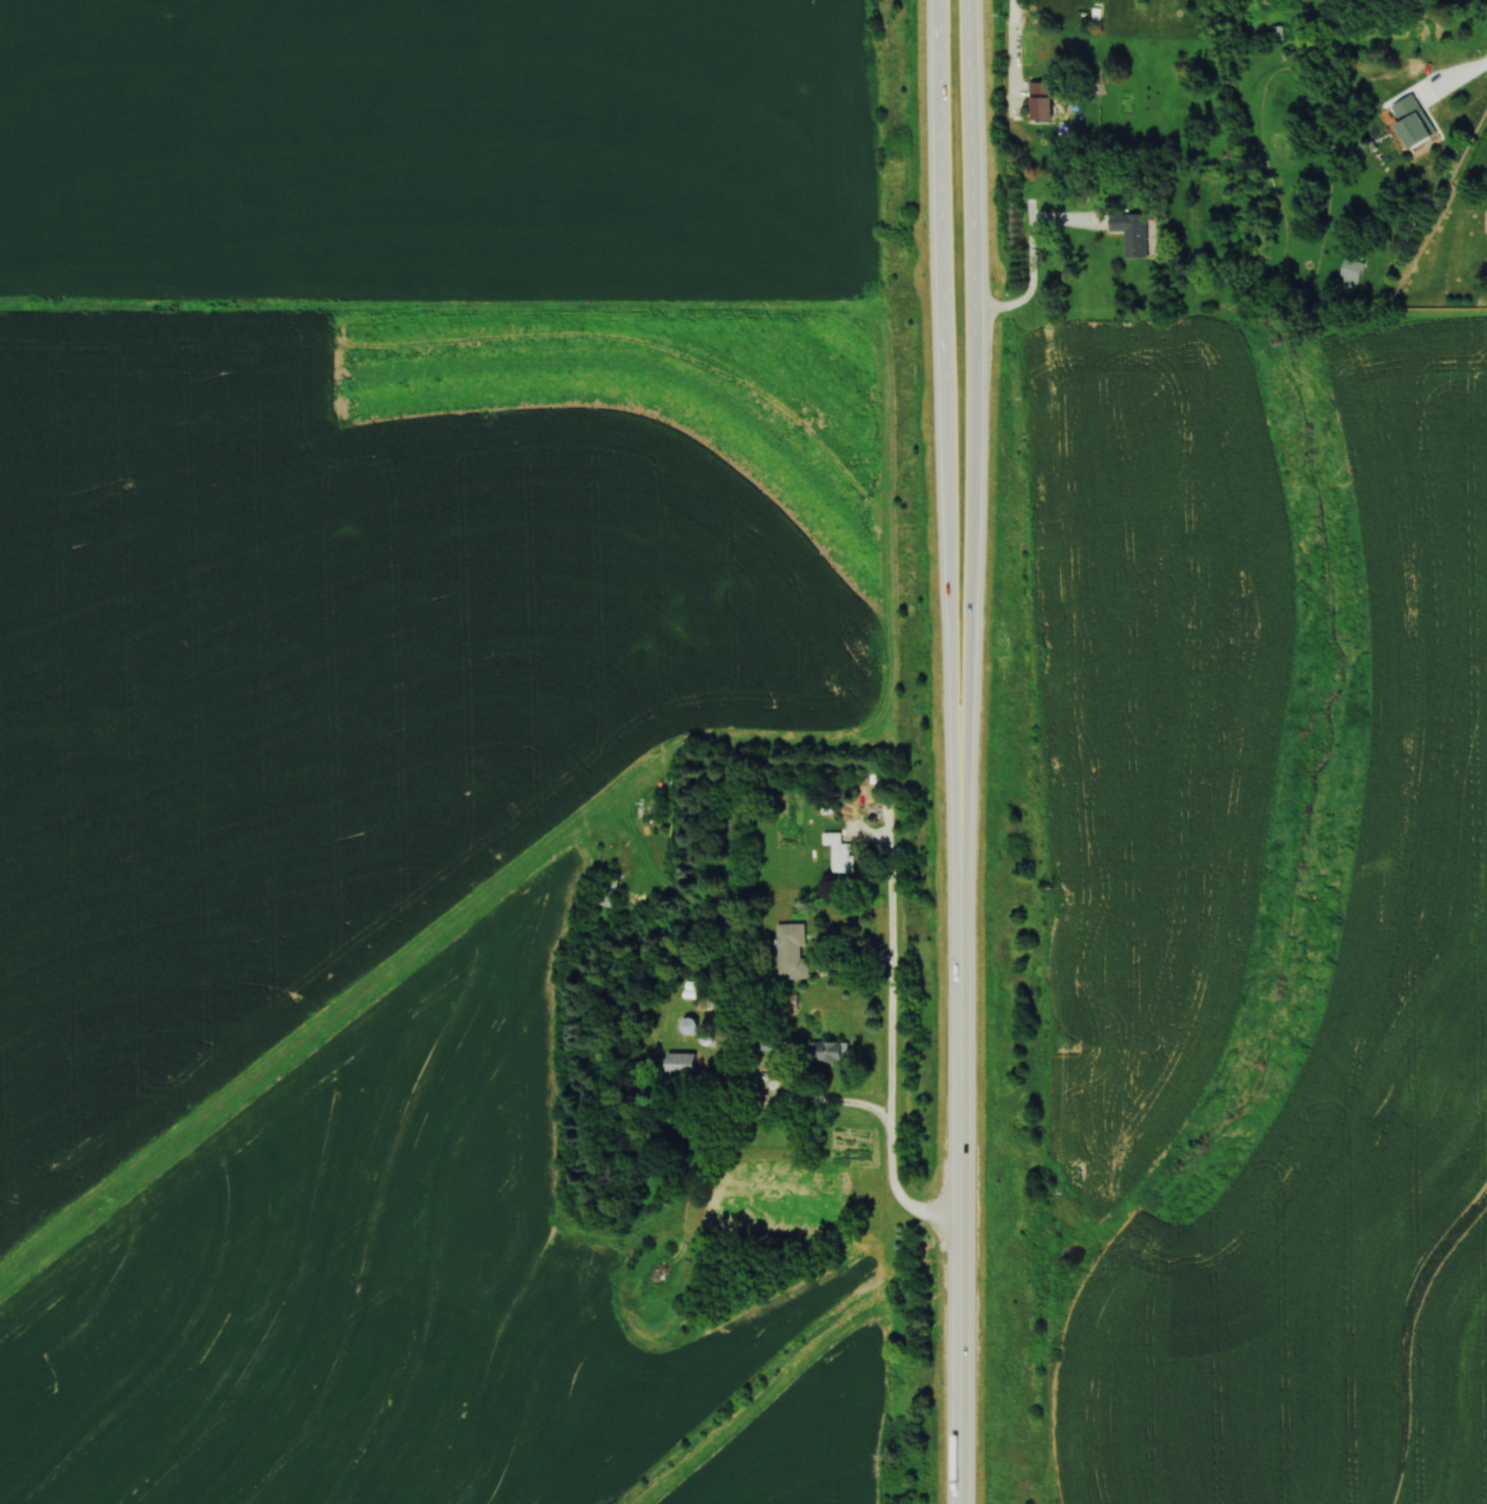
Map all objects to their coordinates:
building: (1278, 34)
road: (1012, 54)
road: (1453, 80)
building: (1044, 102)
building: (1416, 124)
road: (970, 137)
road: (941, 158)
building: (1134, 233)
building: (1353, 271)
road: (1029, 289)
road: (968, 503)
road: (954, 524)
building: (842, 854)
building: (608, 892)
building: (793, 952)
building: (693, 1026)
road: (890, 1033)
building: (774, 1043)
building: (831, 1052)
building: (683, 1064)
road: (808, 1098)
road: (958, 1117)
airport runway: (750, 1399)

